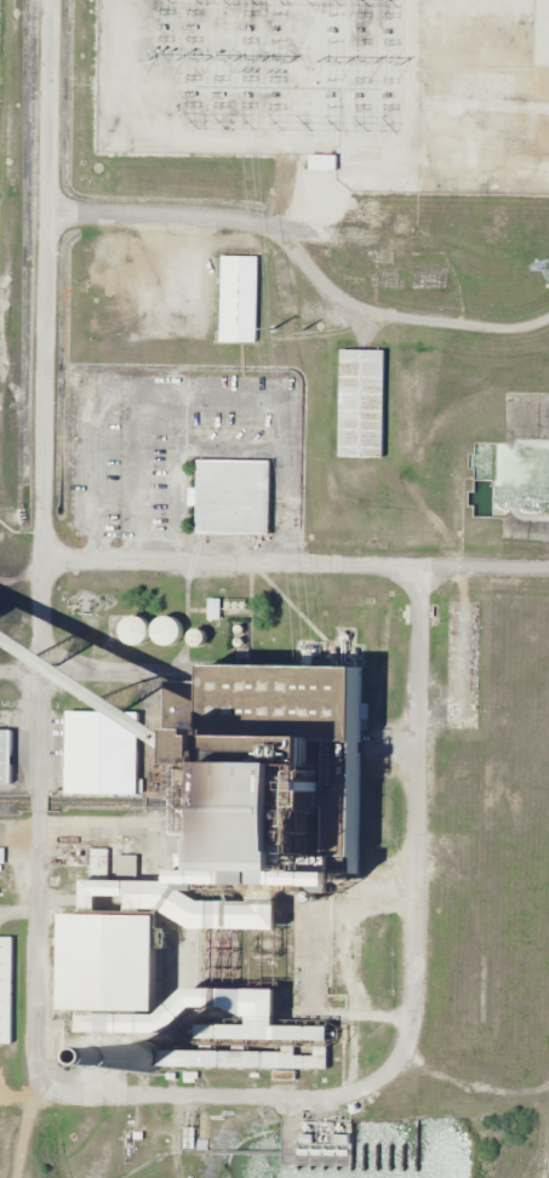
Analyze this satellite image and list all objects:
power substation: (334, 86)
building: (320, 162)
road: (302, 252)
building: (238, 299)
road: (40, 316)
building: (359, 404)
building: (230, 497)
road: (291, 567)
power plant: (270, 578)
building: (228, 607)
storage tank: (228, 607)
building: (236, 607)
storage tank: (236, 607)
building: (244, 607)
storage tank: (244, 607)
building: (215, 612)
building: (135, 631)
storage tank: (135, 631)
building: (166, 631)
storage tank: (166, 631)
building: (239, 631)
storage tank: (239, 631)
building: (195, 640)
storage tank: (195, 640)
building: (238, 644)
storage tank: (238, 644)
building: (103, 754)
building: (5, 757)
building: (104, 959)
building: (6, 989)
building: (256, 1014)
building: (241, 1058)
chimney: (142, 1059)
road: (271, 1093)

